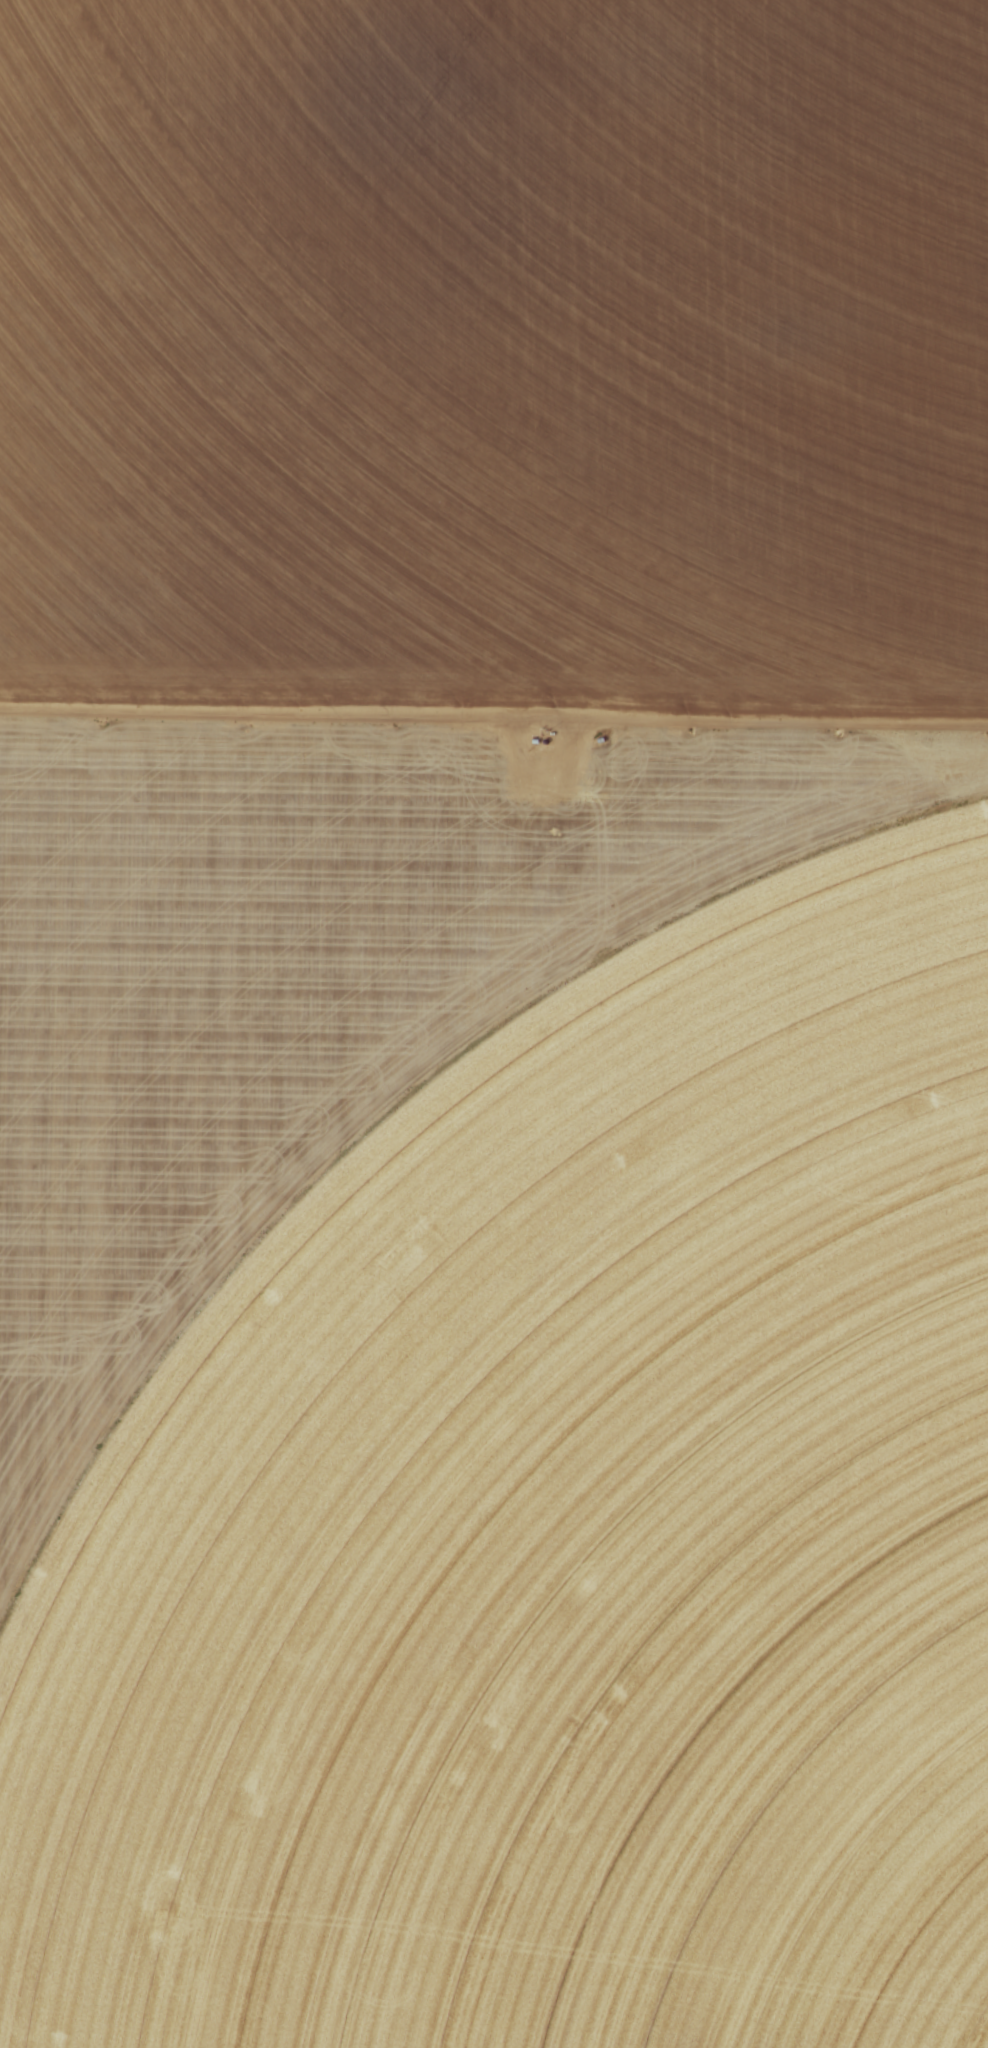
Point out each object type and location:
road: (401, 711)
road: (895, 720)
road: (967, 2038)

